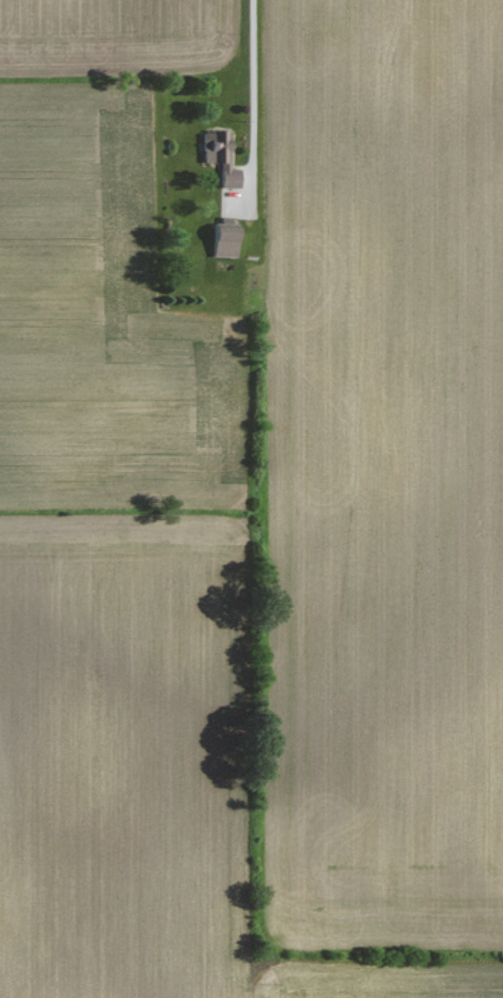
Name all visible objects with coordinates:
road: (258, 78)
building: (226, 158)
building: (227, 237)

